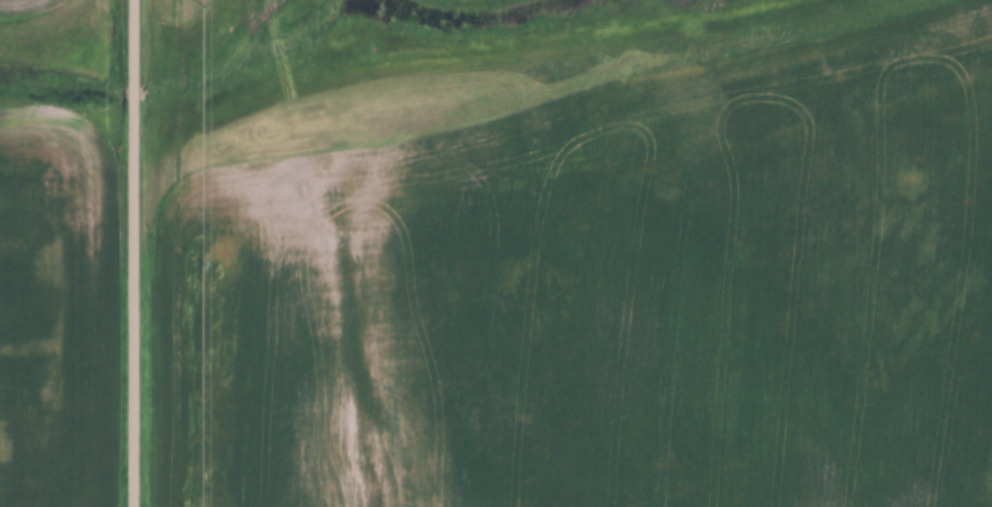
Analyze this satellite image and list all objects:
road: (131, 253)

